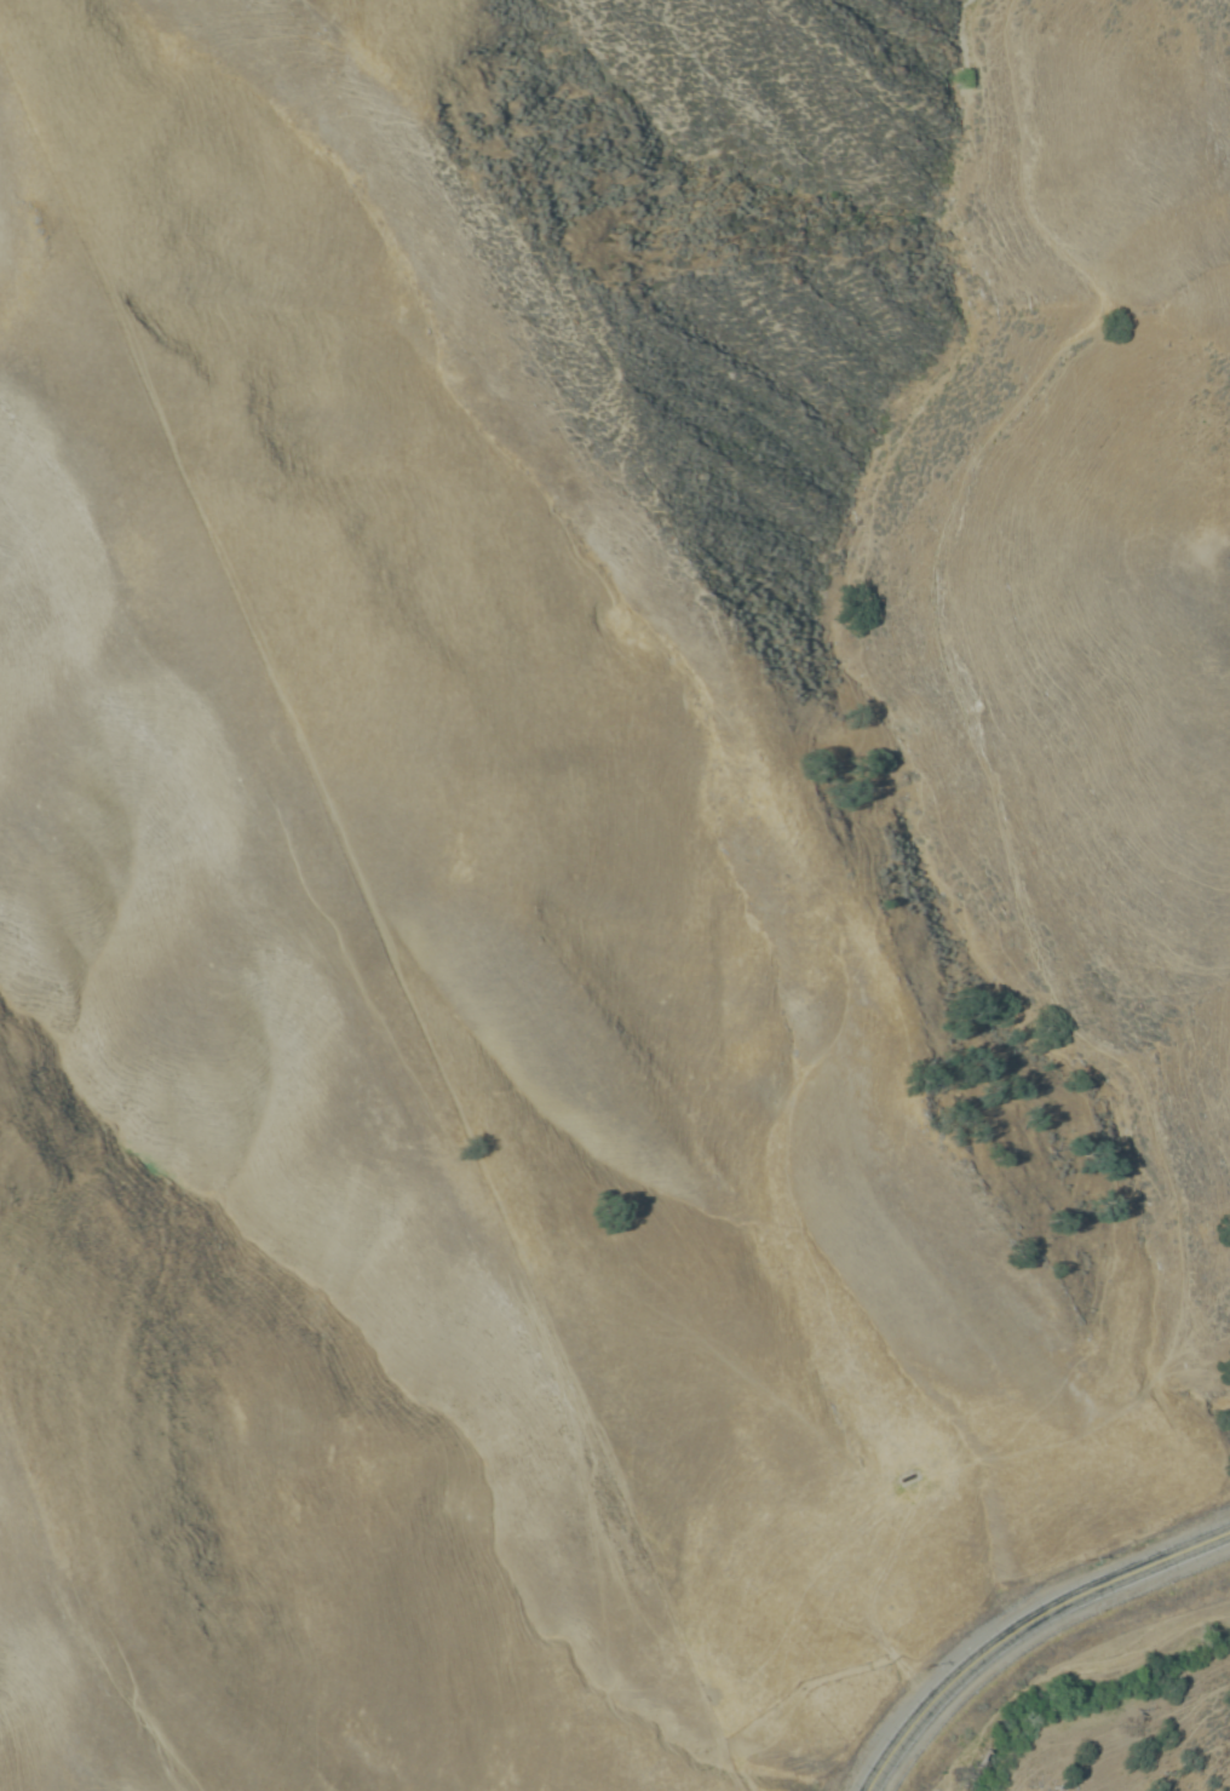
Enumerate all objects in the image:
road: (1022, 1626)

